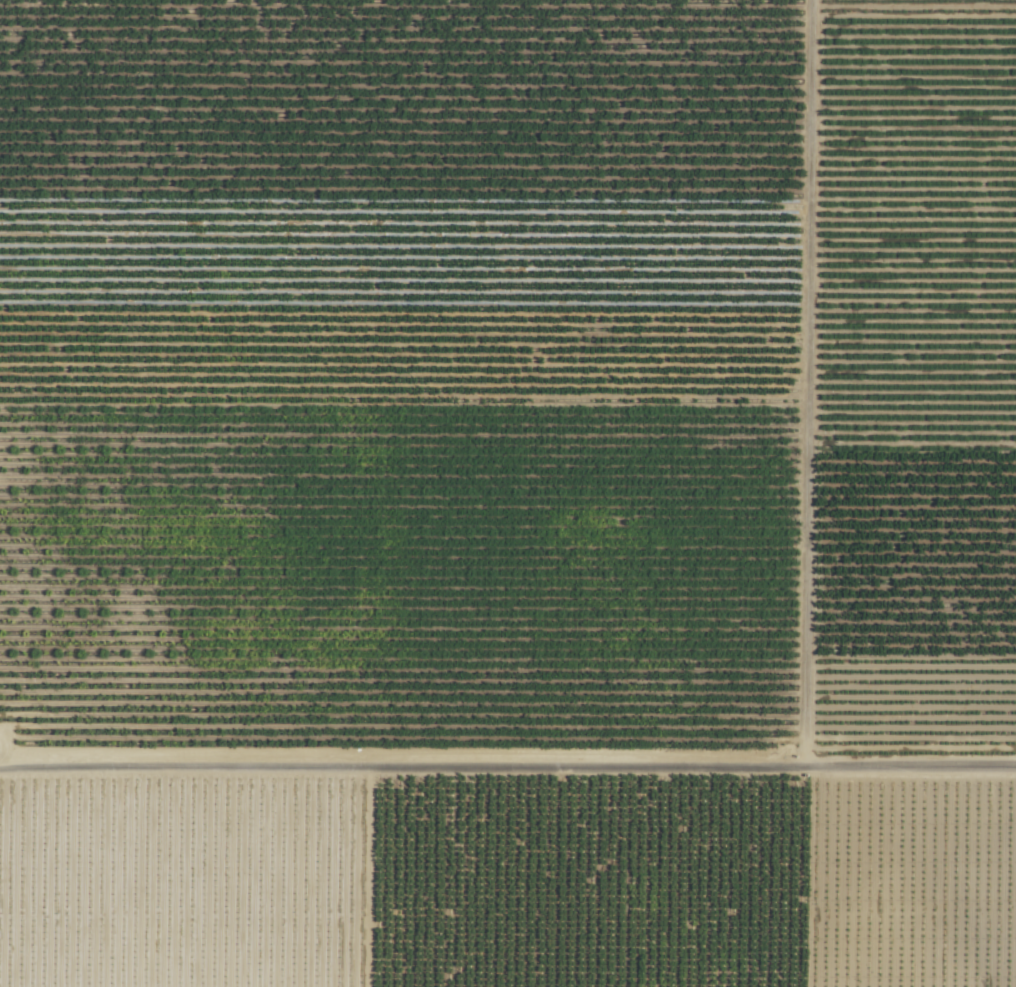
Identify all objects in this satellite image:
crop: (508, 493)
road: (508, 777)

